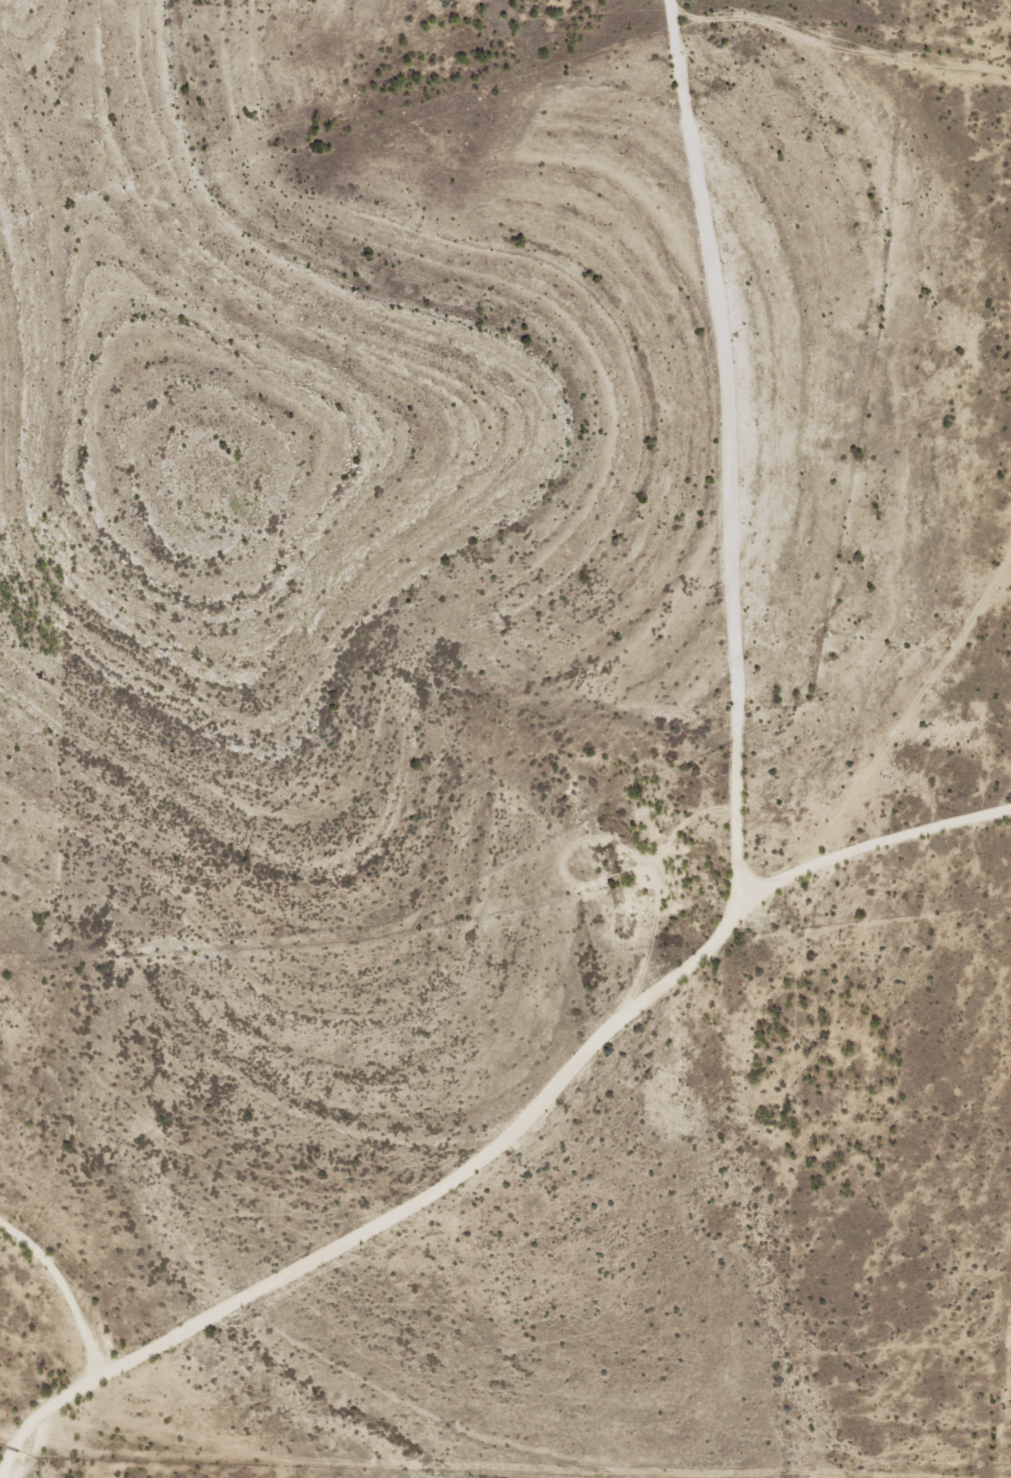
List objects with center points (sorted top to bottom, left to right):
road: (901, 125)
road: (701, 463)
road: (1006, 572)
road: (878, 741)
road: (513, 1136)
road: (50, 1355)

